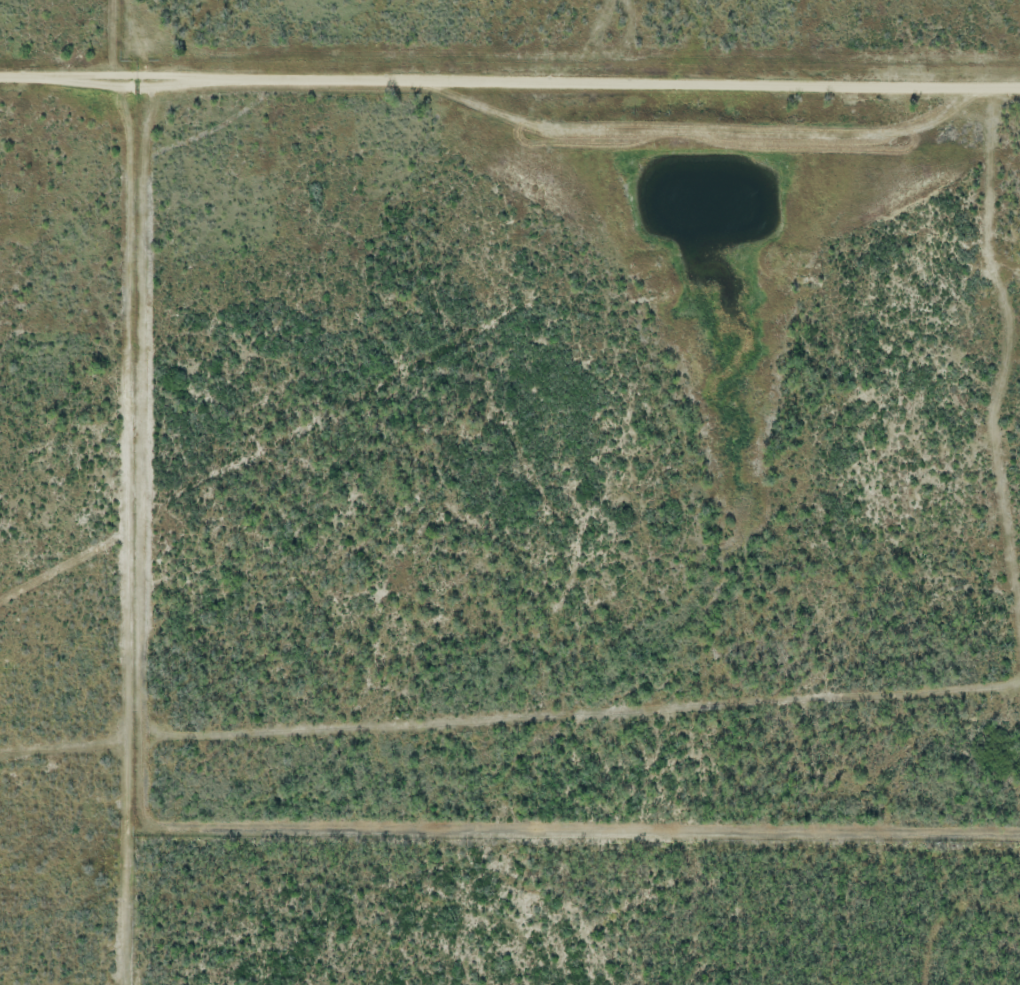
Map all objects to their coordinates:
road: (509, 83)

